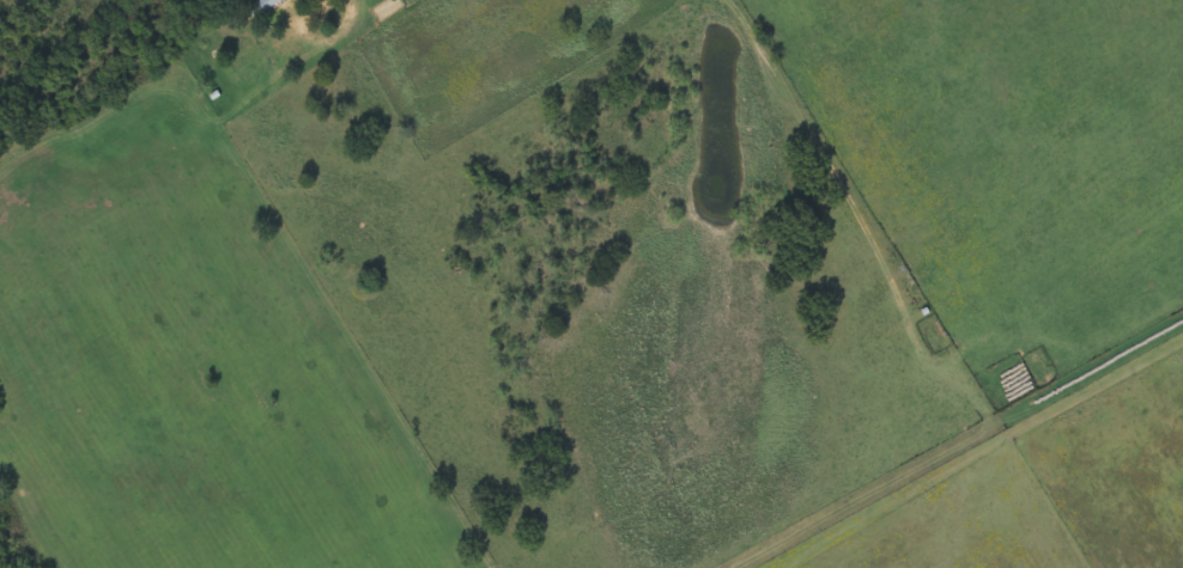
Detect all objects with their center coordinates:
building: (263, 6)
road: (427, 29)

